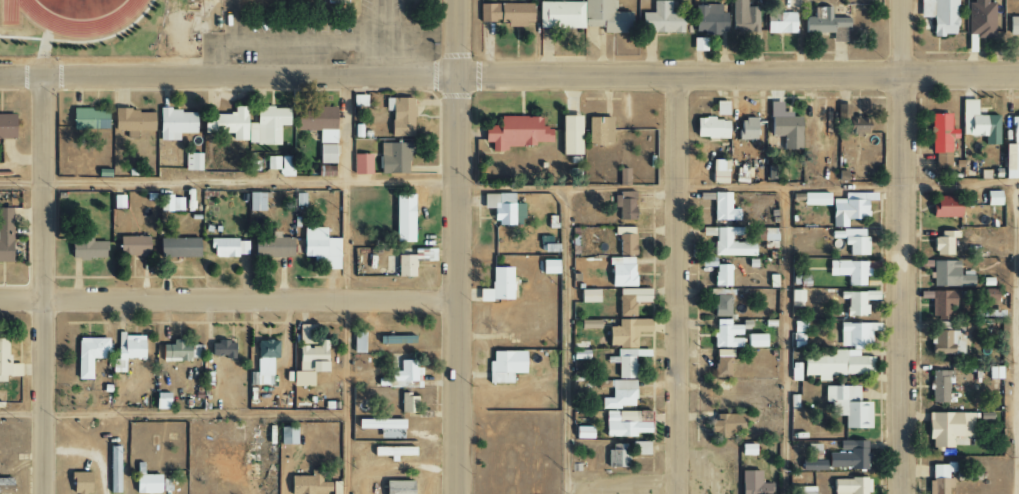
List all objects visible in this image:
building: (337, 0)
building: (506, 13)
building: (560, 15)
building: (939, 15)
building: (605, 16)
building: (743, 17)
building: (660, 19)
building: (708, 19)
building: (979, 19)
building: (779, 22)
building: (826, 24)
building: (1013, 25)
stadium: (107, 26)
road: (378, 38)
building: (698, 44)
road: (509, 75)
building: (720, 108)
building: (400, 116)
building: (88, 119)
building: (132, 120)
building: (317, 122)
building: (174, 123)
building: (226, 123)
building: (266, 125)
building: (977, 125)
building: (6, 126)
building: (784, 126)
building: (710, 128)
building: (746, 128)
building: (599, 130)
building: (515, 133)
building: (940, 133)
building: (569, 135)
building: (1012, 151)
building: (326, 154)
building: (393, 157)
building: (941, 160)
building: (192, 161)
building: (362, 164)
building: (280, 165)
building: (718, 171)
building: (623, 176)
road: (229, 182)
road: (738, 188)
building: (992, 198)
building: (815, 199)
building: (254, 202)
building: (170, 203)
building: (626, 206)
building: (943, 206)
building: (723, 207)
building: (849, 208)
building: (503, 209)
building: (402, 218)
building: (764, 234)
building: (5, 235)
building: (624, 240)
building: (855, 241)
building: (728, 242)
building: (943, 242)
building: (132, 246)
building: (177, 247)
building: (223, 247)
building: (243, 247)
building: (273, 247)
building: (320, 247)
road: (458, 247)
road: (897, 247)
building: (87, 248)
building: (412, 261)
building: (391, 263)
building: (547, 266)
building: (852, 270)
building: (620, 271)
building: (721, 275)
building: (950, 275)
road: (677, 284)
road: (45, 285)
road: (346, 285)
building: (498, 285)
building: (588, 295)
road: (228, 296)
building: (798, 297)
building: (630, 300)
building: (858, 301)
road: (1018, 301)
building: (720, 303)
building: (941, 303)
building: (588, 324)
building: (625, 332)
building: (725, 334)
building: (857, 334)
road: (1016, 338)
road: (567, 341)
building: (753, 341)
road: (785, 341)
building: (357, 342)
building: (947, 342)
building: (222, 349)
building: (266, 349)
building: (126, 351)
building: (181, 351)
building: (88, 355)
building: (626, 361)
building: (6, 363)
building: (721, 363)
building: (836, 364)
building: (504, 366)
building: (405, 372)
building: (259, 378)
building: (939, 385)
building: (620, 395)
building: (159, 401)
building: (408, 403)
building: (849, 405)
road: (172, 413)
building: (627, 423)
building: (730, 424)
building: (947, 427)
building: (582, 432)
building: (286, 435)
building: (642, 448)
building: (747, 449)
building: (393, 452)
building: (848, 456)
building: (812, 465)
building: (112, 469)
building: (940, 478)
building: (78, 483)
building: (752, 483)
building: (146, 484)
building: (308, 484)
building: (849, 486)
building: (396, 487)
building: (804, 490)

